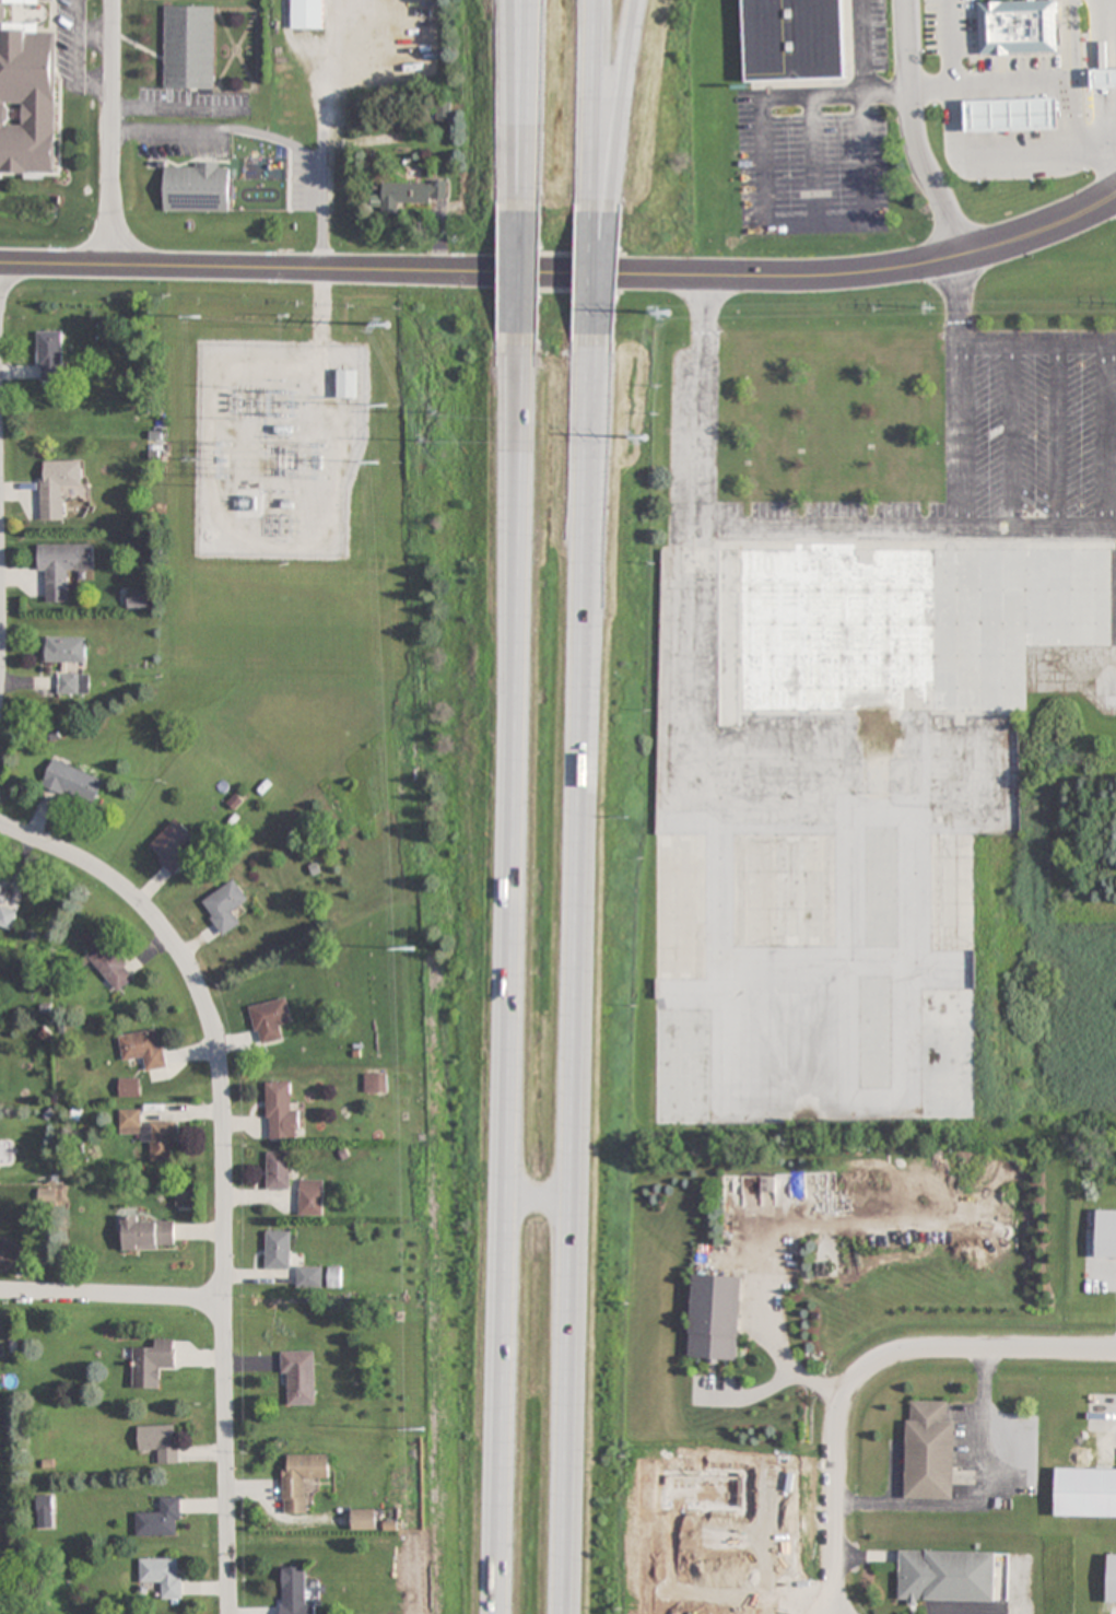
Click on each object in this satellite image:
building: (307, 14)
building: (1015, 26)
building: (794, 38)
road: (860, 46)
building: (188, 47)
building: (1104, 78)
road: (984, 90)
road: (885, 92)
building: (26, 102)
road: (604, 113)
road: (618, 113)
building: (444, 114)
building: (1012, 114)
road: (520, 115)
road: (530, 115)
road: (109, 131)
road: (914, 131)
road: (1107, 144)
road: (953, 151)
road: (814, 160)
road: (1107, 165)
building: (196, 187)
building: (408, 195)
road: (767, 224)
road: (564, 276)
road: (527, 277)
road: (602, 282)
power tower: (195, 315)
power tower: (285, 315)
power tower: (381, 324)
road: (1038, 341)
building: (49, 355)
building: (345, 384)
power tower: (279, 386)
power tower: (292, 402)
power tower: (386, 406)
power substation: (275, 445)
power tower: (190, 459)
power tower: (212, 460)
power tower: (317, 460)
power tower: (376, 463)
building: (57, 486)
road: (843, 525)
building: (62, 566)
building: (893, 627)
building: (64, 650)
building: (73, 683)
building: (72, 782)
building: (171, 845)
building: (880, 888)
building: (784, 891)
building: (952, 891)
building: (3, 893)
building: (223, 907)
building: (680, 908)
power tower: (411, 948)
building: (109, 964)
road: (512, 969)
road: (586, 976)
building: (269, 1019)
building: (873, 1032)
building: (142, 1049)
building: (948, 1054)
building: (682, 1067)
building: (374, 1084)
building: (128, 1086)
building: (279, 1111)
building: (149, 1134)
road: (222, 1167)
building: (277, 1170)
building: (310, 1196)
building: (184, 1198)
road: (543, 1205)
building: (148, 1232)
building: (1105, 1235)
building: (278, 1249)
building: (333, 1276)
building: (308, 1277)
road: (111, 1296)
building: (714, 1318)
building: (152, 1364)
road: (864, 1364)
building: (298, 1378)
building: (158, 1441)
building: (928, 1451)
building: (299, 1478)
building: (1084, 1493)
building: (44, 1511)
building: (158, 1519)
building: (363, 1519)
building: (162, 1576)
building: (945, 1576)
building: (1111, 1579)
building: (294, 1592)

